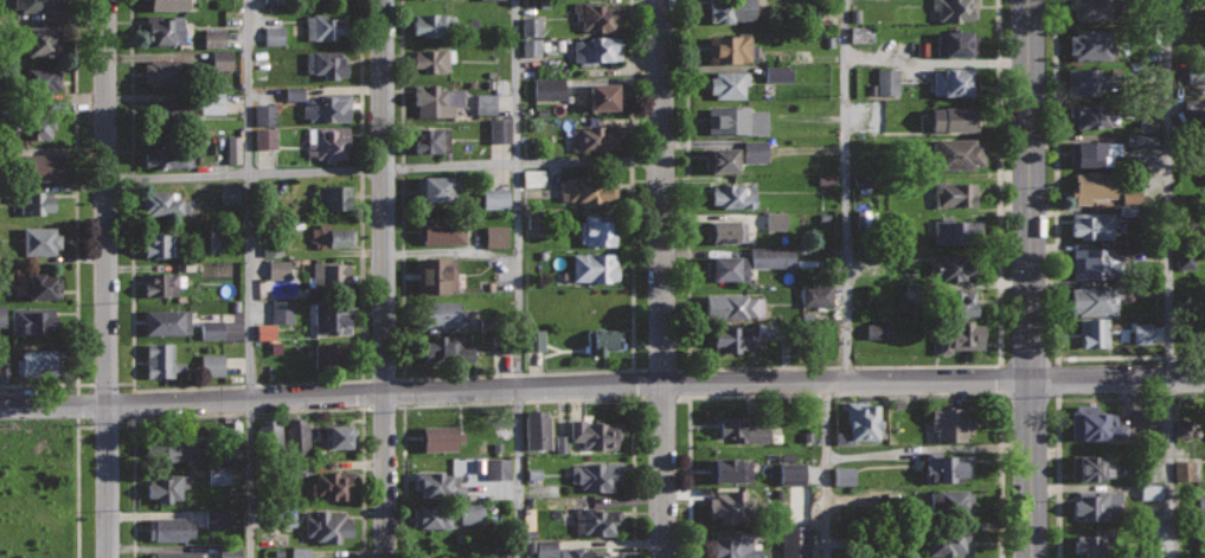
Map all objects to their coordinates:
building: (273, 1)
building: (168, 4)
building: (39, 5)
building: (956, 8)
building: (732, 9)
building: (1096, 9)
building: (597, 14)
building: (431, 24)
building: (325, 25)
building: (164, 28)
building: (274, 36)
building: (860, 36)
building: (531, 37)
building: (213, 39)
building: (41, 40)
building: (954, 43)
building: (1091, 44)
building: (735, 47)
building: (598, 49)
building: (431, 58)
building: (220, 60)
building: (326, 63)
building: (167, 71)
building: (778, 73)
building: (41, 79)
building: (951, 81)
building: (1088, 81)
building: (730, 82)
building: (886, 82)
building: (547, 89)
building: (294, 95)
building: (603, 96)
building: (437, 100)
building: (211, 104)
building: (485, 104)
building: (327, 107)
building: (173, 114)
building: (264, 115)
building: (1090, 115)
building: (737, 117)
building: (949, 117)
building: (34, 123)
building: (500, 130)
building: (595, 137)
building: (264, 139)
building: (431, 139)
building: (1140, 140)
building: (328, 141)
building: (232, 149)
building: (755, 152)
building: (956, 152)
building: (1094, 152)
building: (168, 155)
building: (722, 158)
building: (43, 166)
road: (383, 169)
building: (1204, 174)
building: (533, 179)
road: (630, 185)
building: (1092, 186)
road: (402, 188)
building: (438, 188)
building: (587, 188)
road: (360, 190)
road: (847, 190)
road: (132, 191)
building: (230, 193)
building: (955, 193)
building: (736, 194)
building: (334, 195)
building: (34, 200)
building: (494, 200)
building: (164, 201)
building: (533, 219)
building: (776, 222)
building: (1094, 224)
building: (598, 227)
road: (75, 230)
building: (444, 230)
building: (956, 230)
building: (726, 231)
building: (338, 237)
building: (495, 237)
building: (40, 238)
building: (160, 244)
building: (1126, 245)
road: (1055, 252)
building: (771, 258)
building: (1185, 262)
building: (1095, 263)
building: (595, 265)
building: (955, 267)
building: (728, 268)
building: (277, 270)
building: (331, 274)
building: (438, 274)
road: (104, 278)
road: (250, 278)
road: (382, 278)
road: (519, 278)
road: (662, 278)
road: (1030, 278)
road: (1168, 278)
building: (161, 283)
building: (39, 286)
building: (912, 293)
building: (816, 296)
building: (1096, 297)
building: (961, 301)
building: (735, 306)
building: (281, 313)
building: (438, 313)
building: (1, 316)
building: (333, 318)
building: (468, 318)
building: (33, 321)
building: (168, 321)
building: (211, 329)
building: (877, 332)
building: (1096, 332)
building: (265, 333)
building: (1142, 333)
building: (956, 334)
building: (821, 335)
building: (732, 339)
building: (534, 340)
building: (604, 340)
building: (449, 347)
building: (328, 354)
building: (160, 359)
building: (37, 365)
building: (211, 365)
road: (839, 368)
road: (521, 373)
road: (84, 384)
road: (238, 385)
road: (602, 386)
road: (76, 389)
road: (748, 396)
road: (596, 398)
road: (1056, 404)
road: (400, 406)
road: (254, 413)
building: (861, 418)
building: (948, 423)
building: (1094, 423)
building: (538, 428)
building: (742, 428)
building: (1181, 430)
building: (270, 434)
building: (297, 434)
building: (595, 434)
building: (339, 435)
building: (443, 438)
building: (169, 443)
building: (560, 444)
road: (38, 455)
building: (946, 464)
building: (1092, 466)
building: (729, 468)
building: (496, 469)
road: (827, 469)
building: (1184, 472)
building: (597, 474)
building: (218, 475)
building: (842, 476)
road: (1000, 476)
road: (688, 477)
building: (791, 477)
road: (403, 482)
building: (437, 482)
building: (334, 483)
building: (167, 486)
road: (77, 488)
building: (1150, 492)
building: (949, 501)
building: (1200, 502)
building: (1097, 504)
building: (732, 505)
building: (472, 514)
building: (286, 515)
building: (431, 515)
building: (595, 515)
building: (218, 519)
building: (327, 525)
building: (172, 527)
building: (795, 541)
building: (949, 541)
building: (1095, 541)
building: (733, 545)
building: (545, 547)
building: (229, 552)
building: (300, 552)
building: (502, 552)
building: (177, 553)
building: (585, 553)
building: (332, 556)
building: (450, 556)

